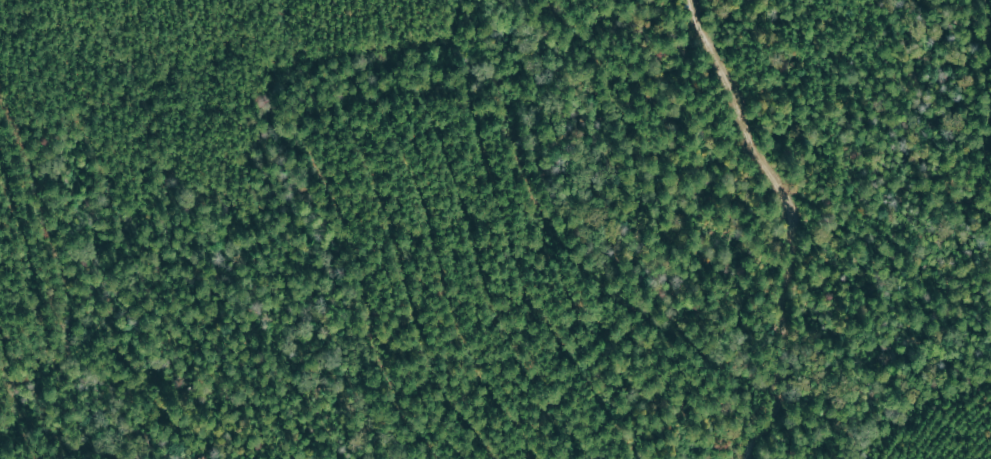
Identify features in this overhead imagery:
road: (787, 227)

